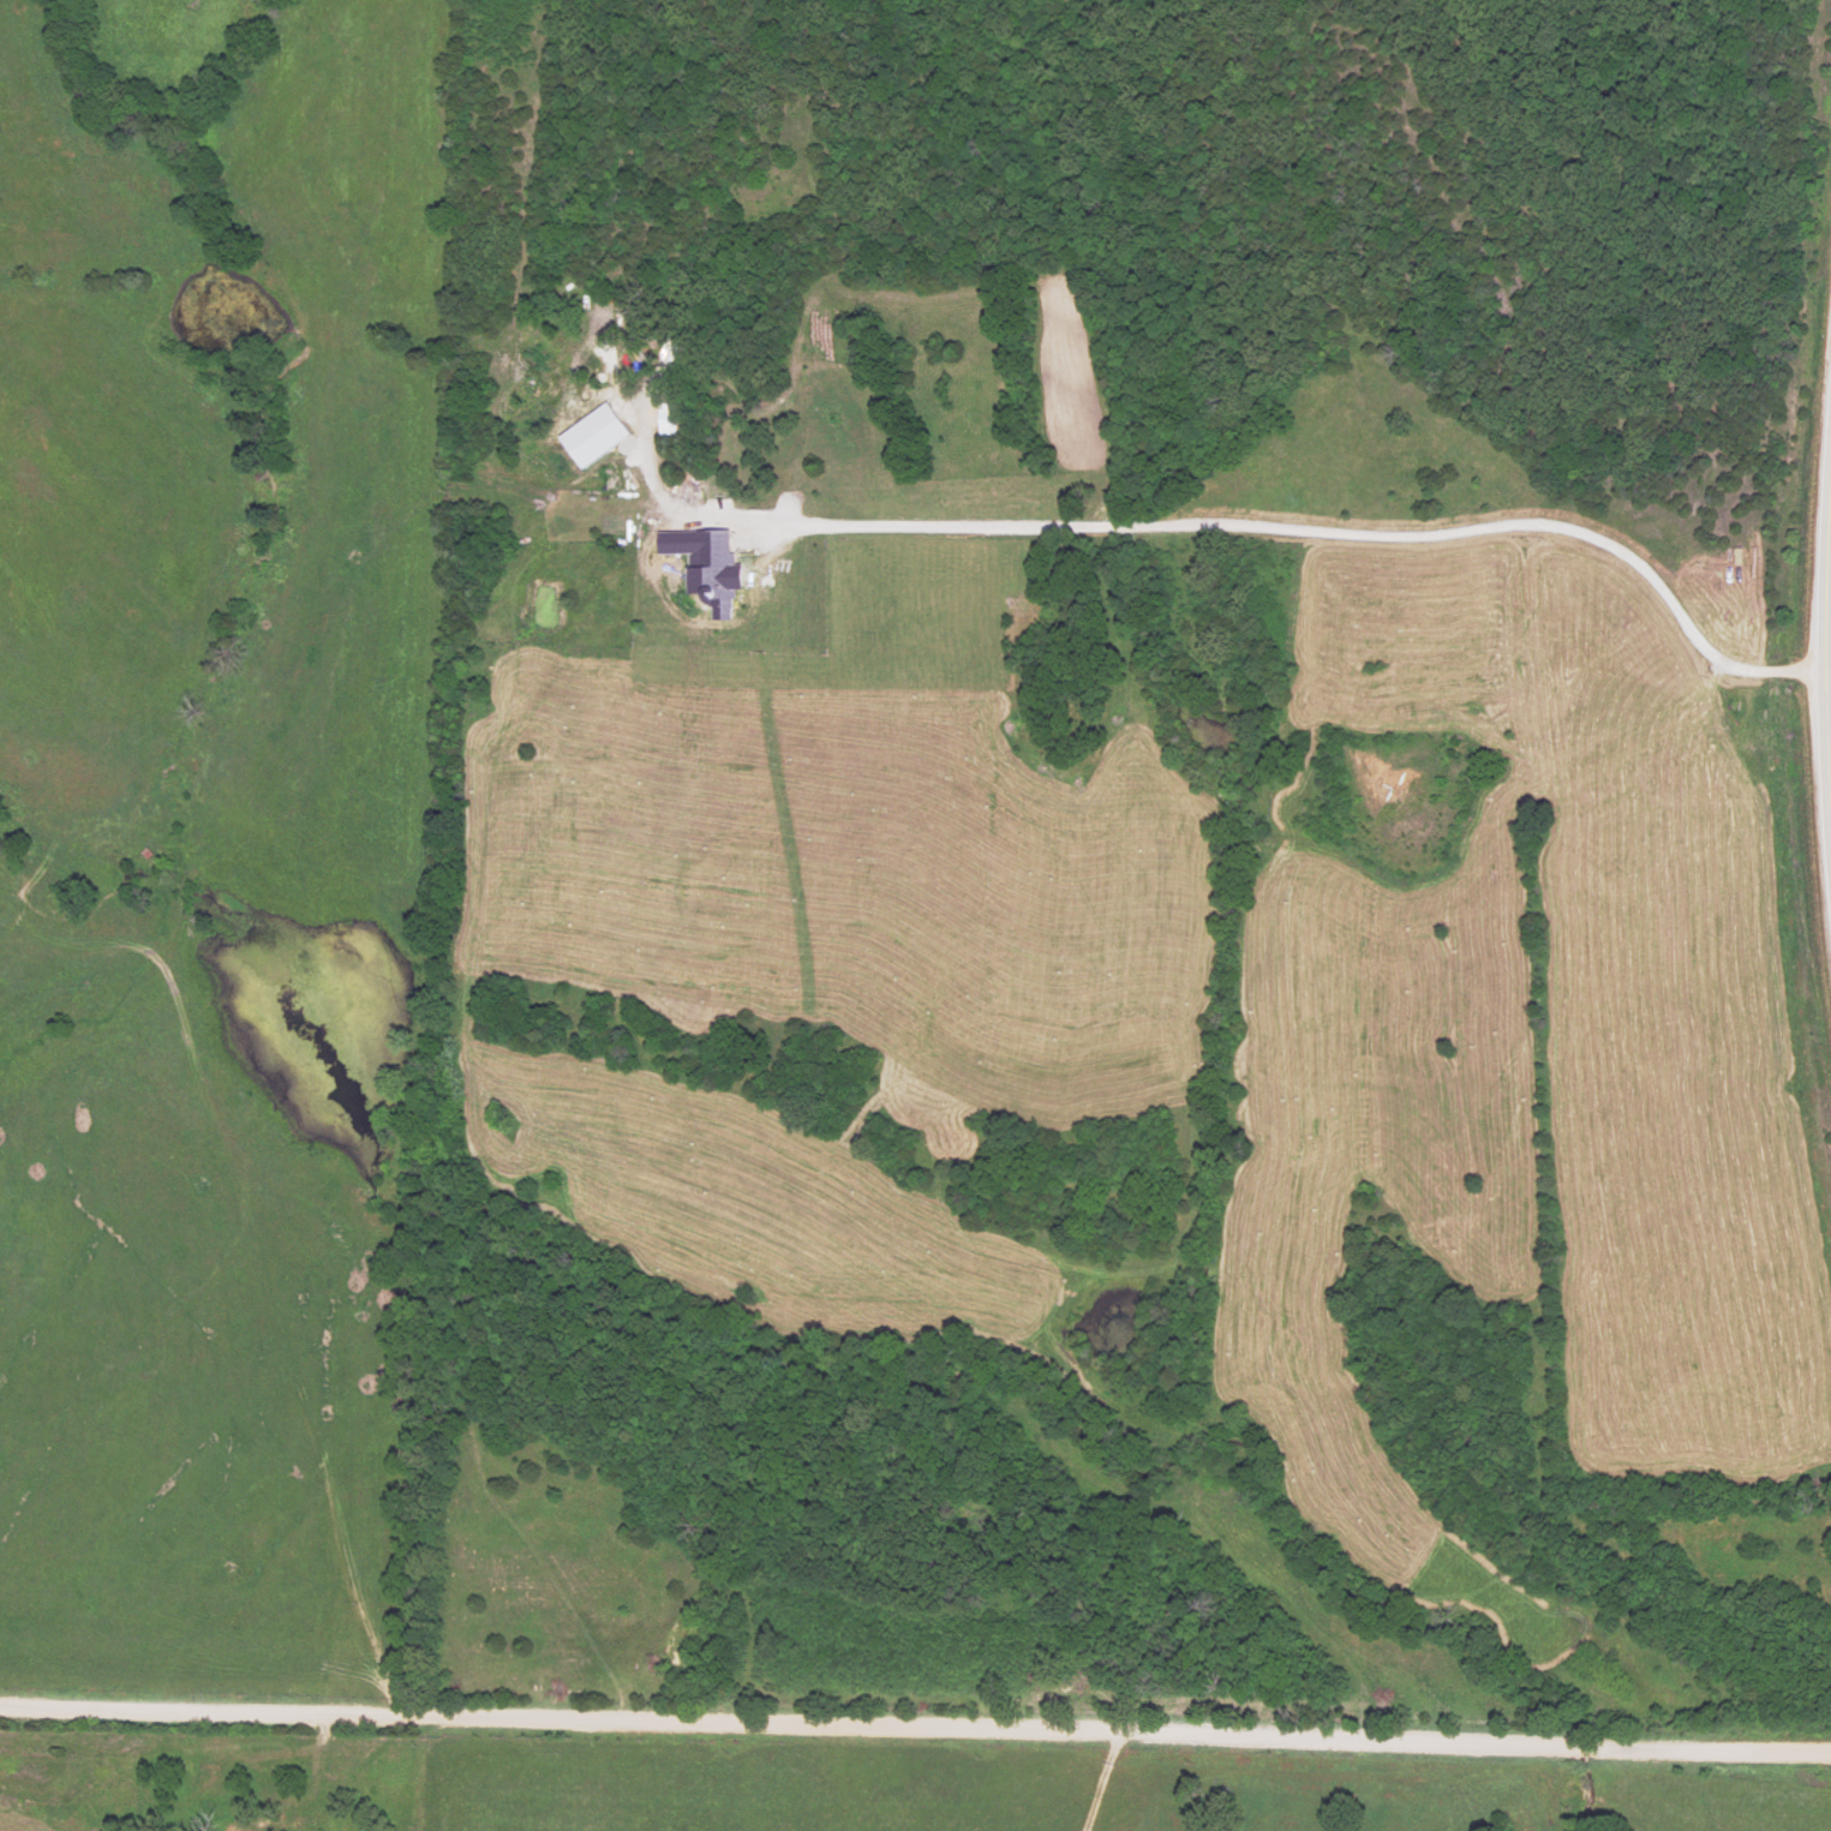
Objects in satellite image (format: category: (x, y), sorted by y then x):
building: (665, 421)
building: (592, 438)
building: (713, 572)
road: (1818, 663)
road: (912, 1746)
road: (1096, 1789)

